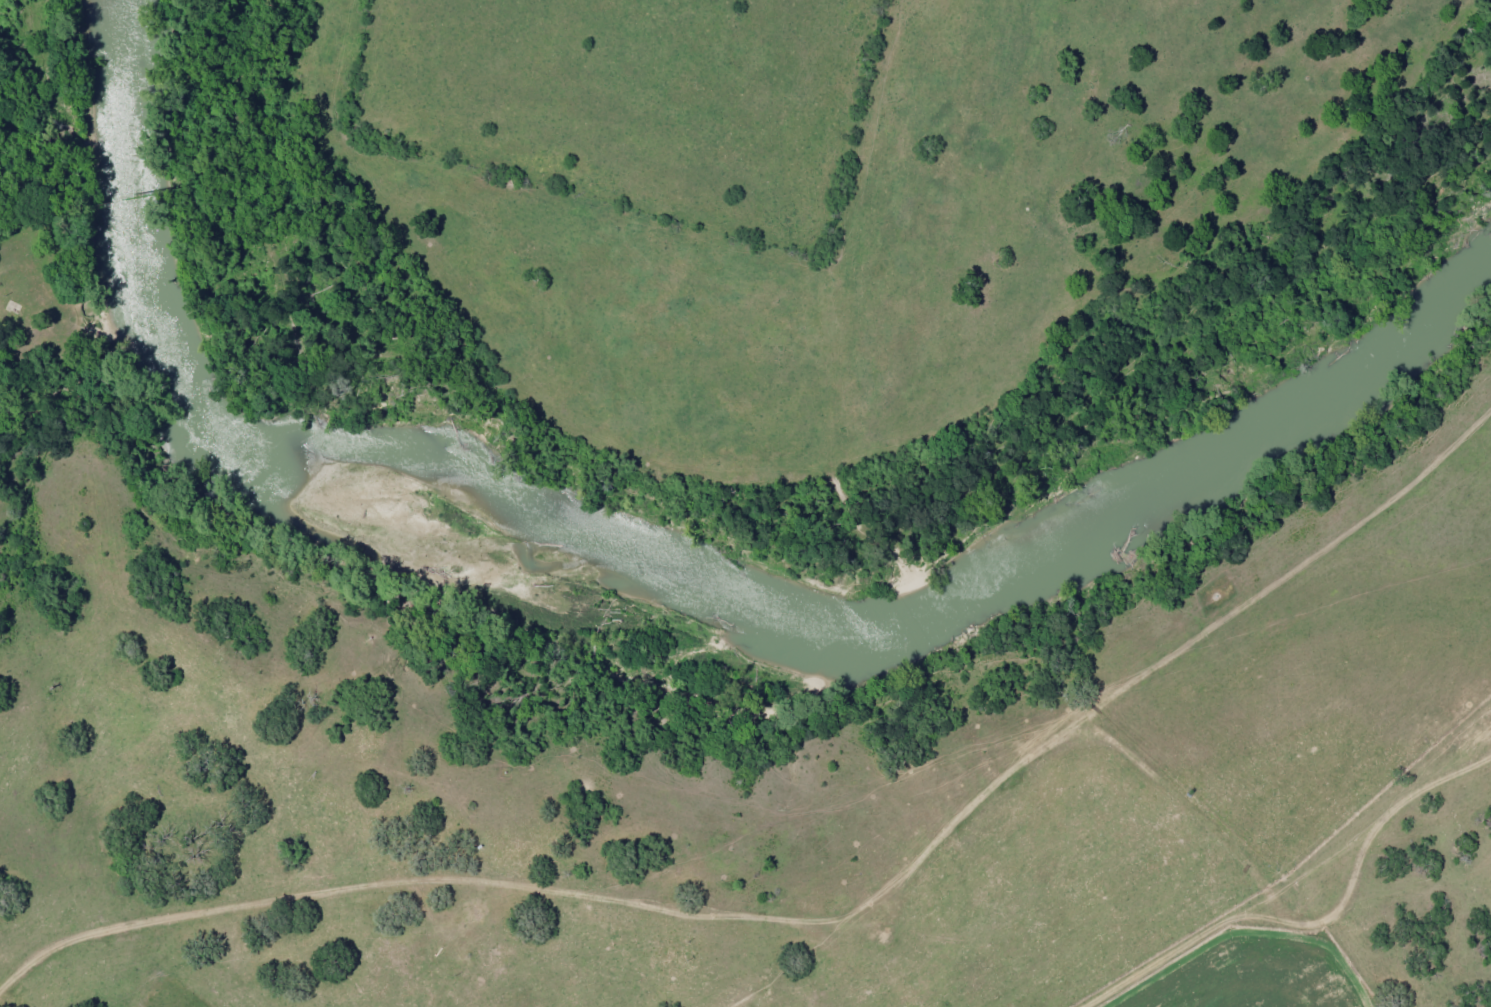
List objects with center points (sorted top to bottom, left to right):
road: (22, 154)
road: (982, 247)
river: (752, 531)
road: (12, 720)
road: (826, 904)

